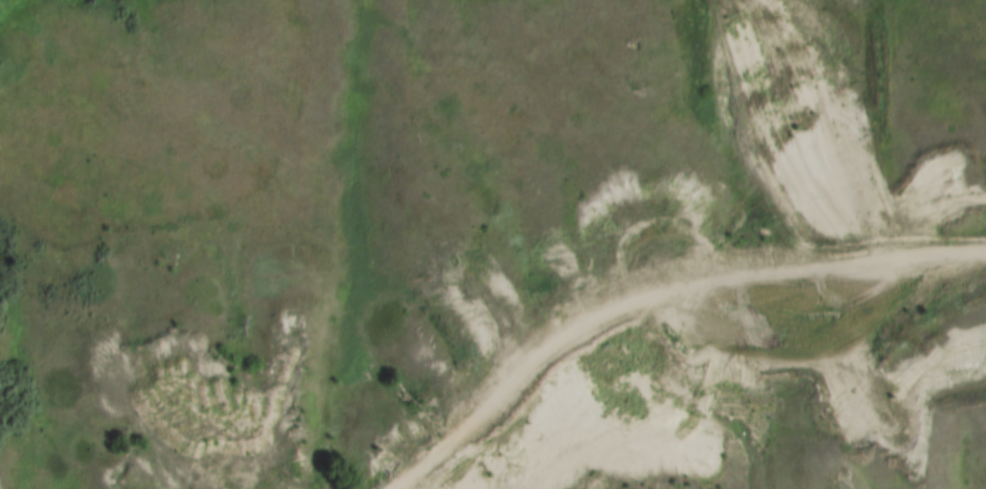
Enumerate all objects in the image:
quarry: (609, 306)

